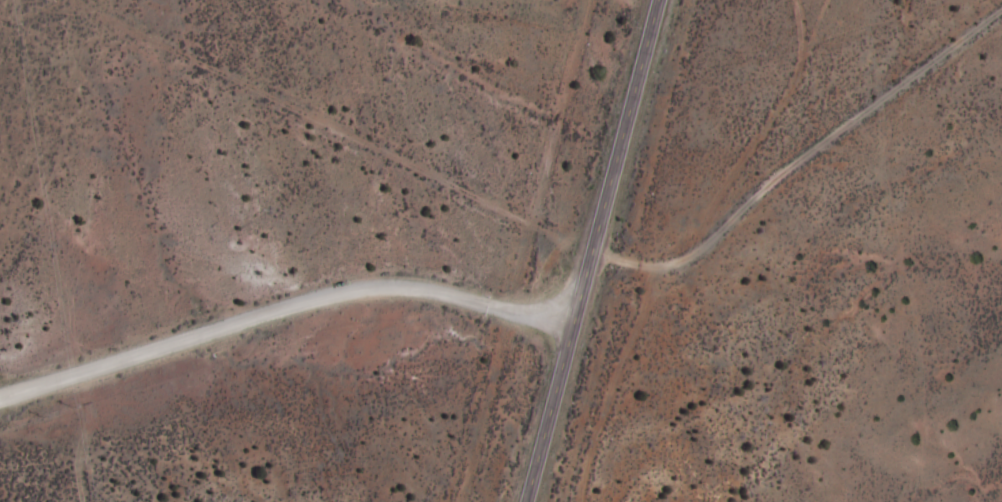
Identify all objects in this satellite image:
road: (326, 127)
road: (594, 251)
road: (616, 258)
road: (285, 307)
road: (659, 322)

